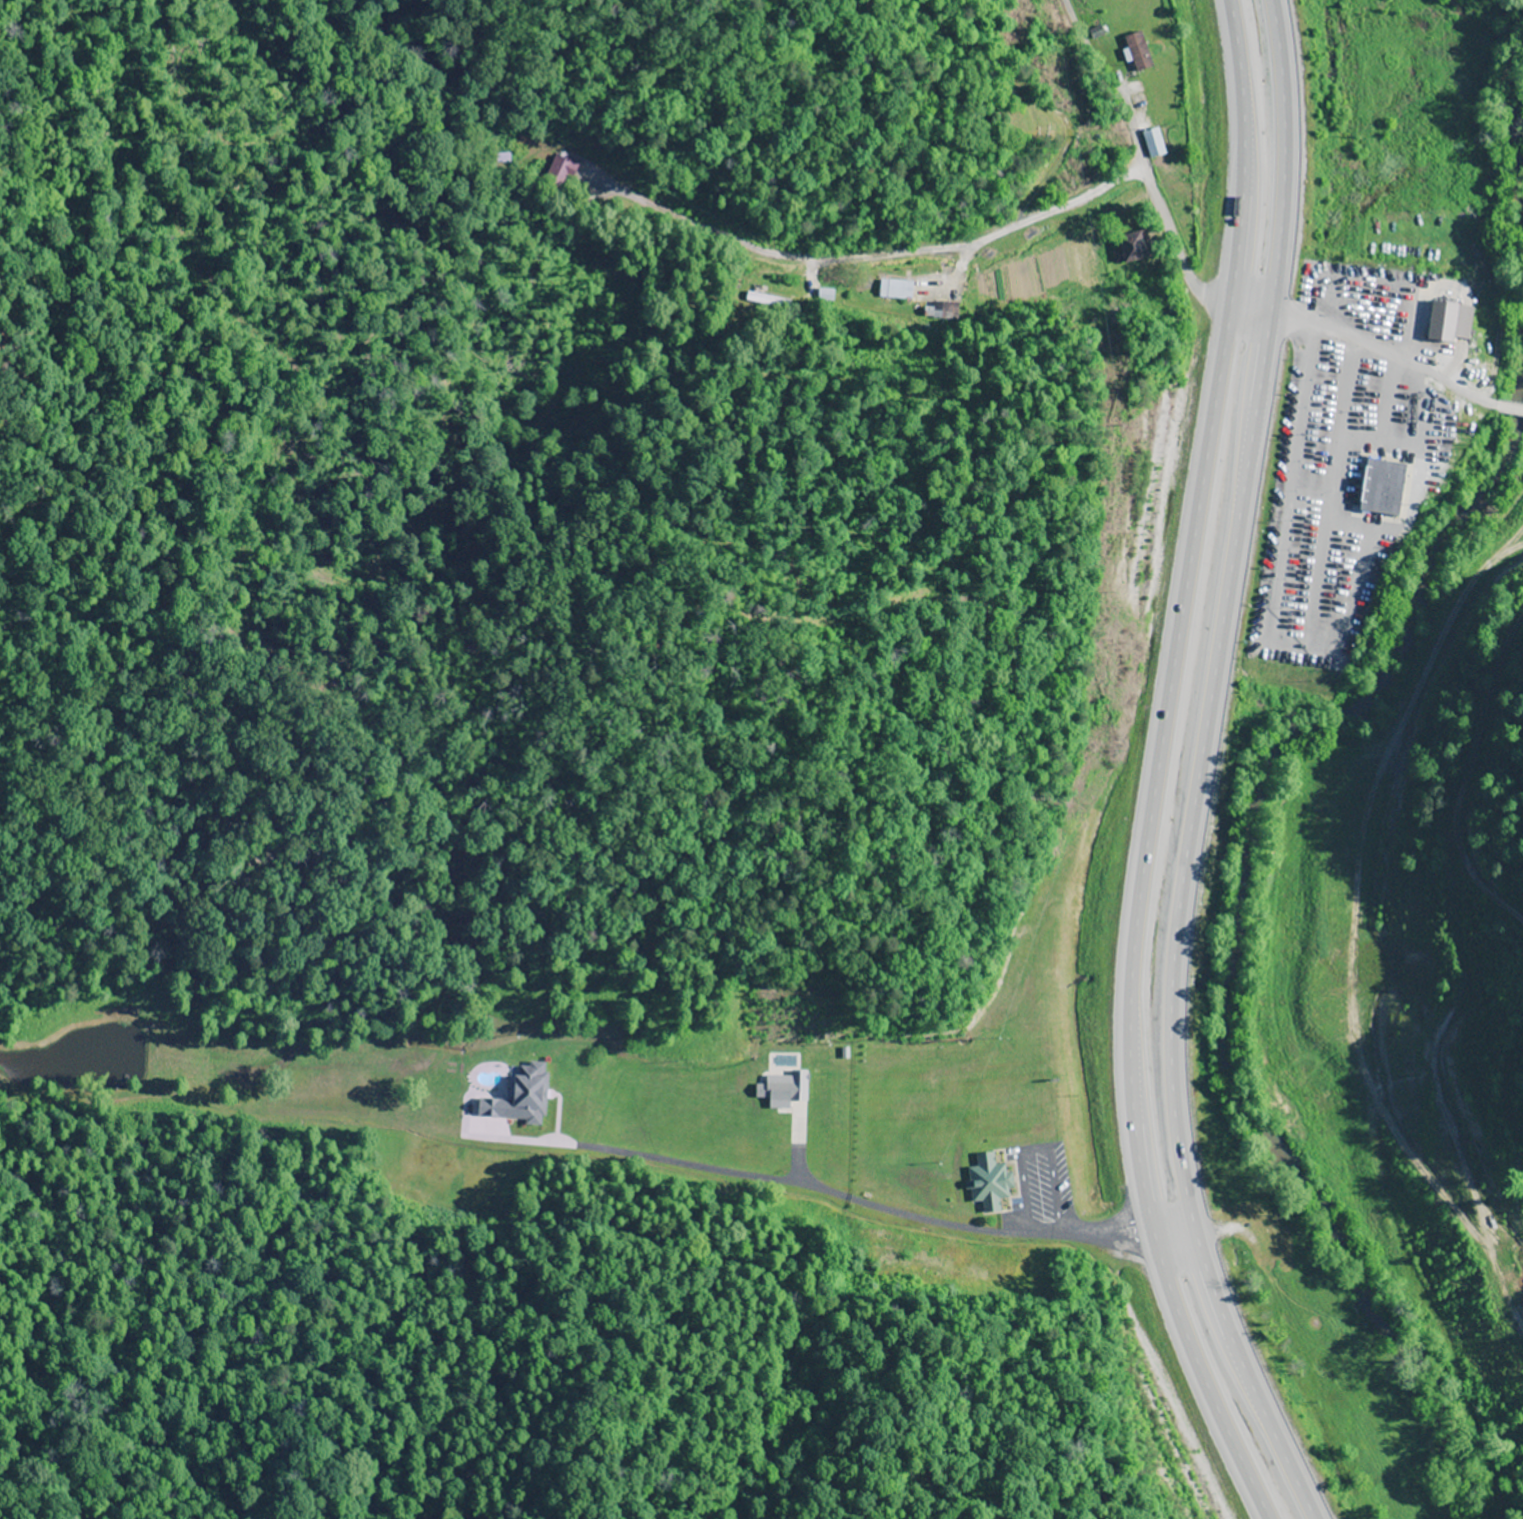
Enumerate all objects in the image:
building: (1139, 52)
building: (1153, 143)
building: (1132, 248)
building: (895, 289)
road: (1415, 317)
road: (1198, 769)
road: (1153, 771)
building: (783, 1090)
building: (519, 1097)
building: (987, 1184)

